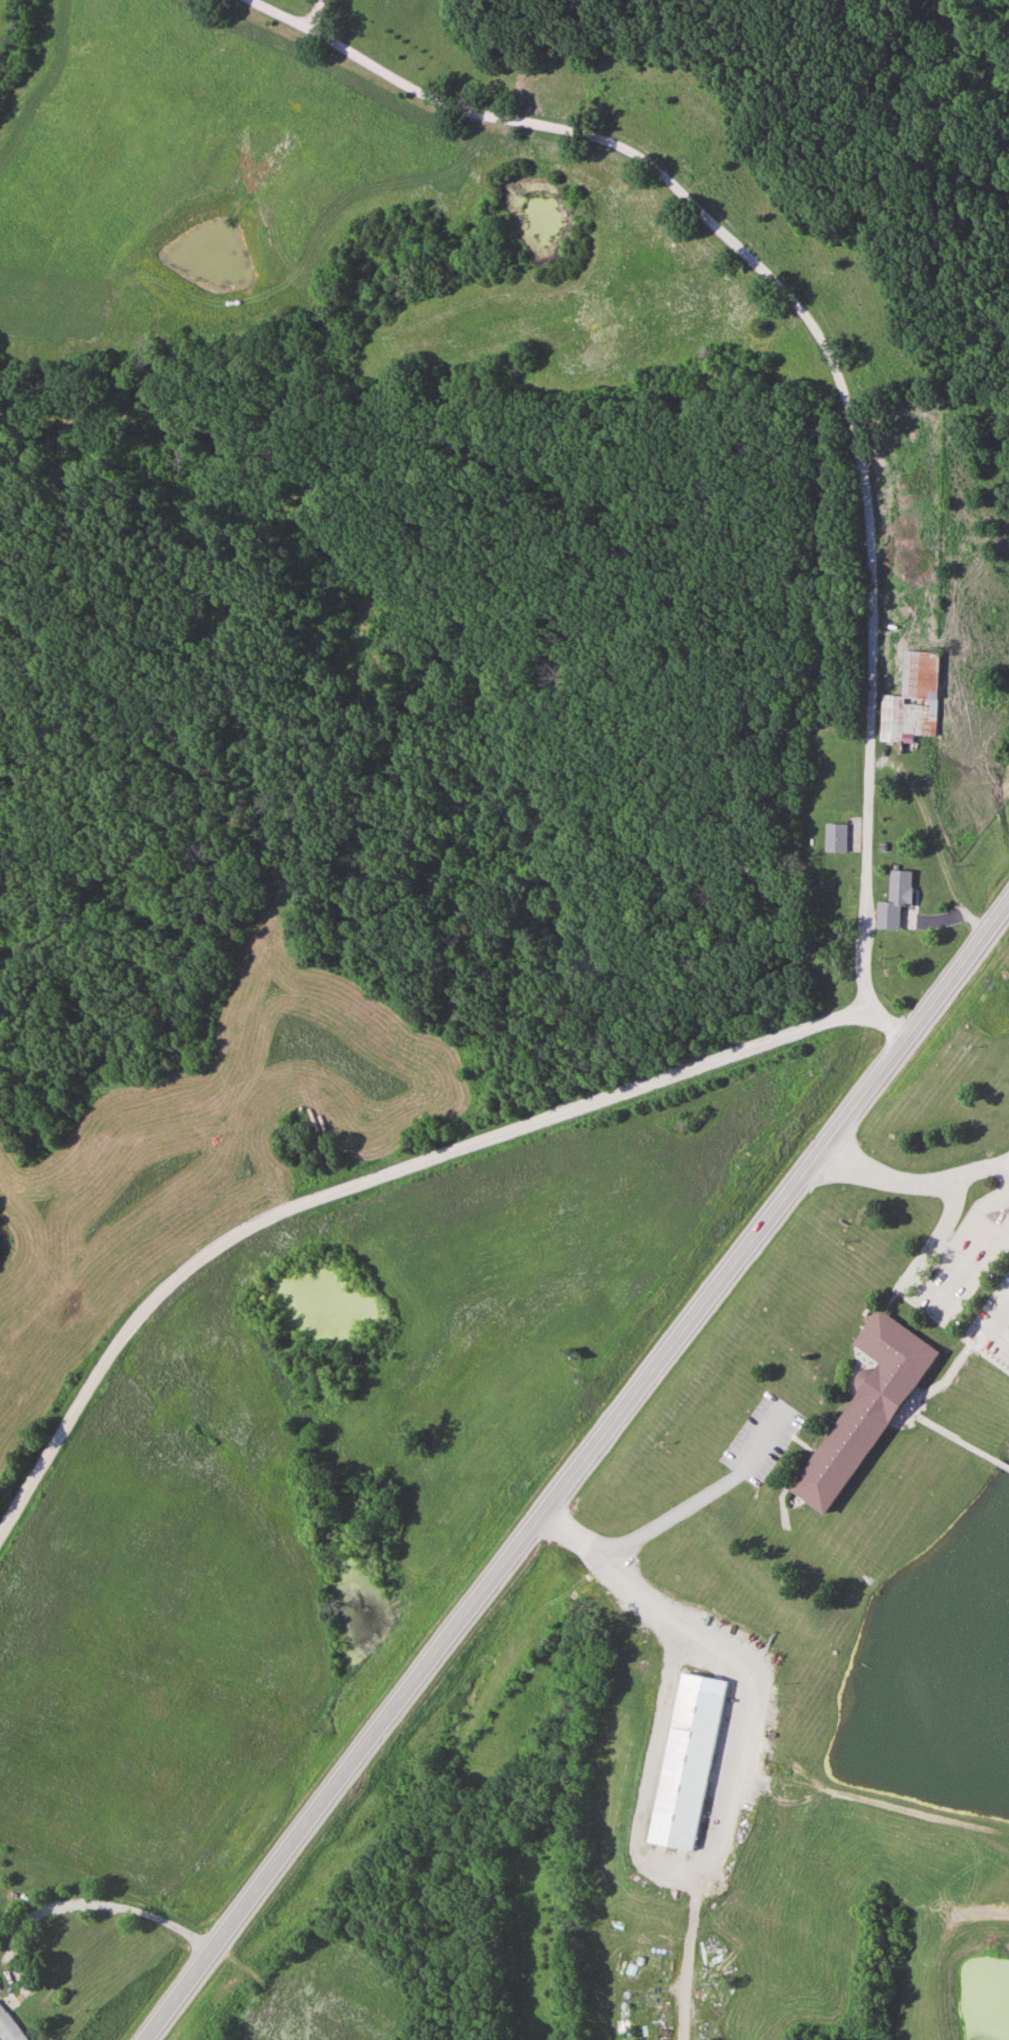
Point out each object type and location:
road: (828, 361)
building: (912, 700)
building: (837, 837)
building: (895, 899)
road: (367, 1181)
building: (864, 1409)
road: (576, 1473)
building: (688, 1761)
building: (10, 2026)

